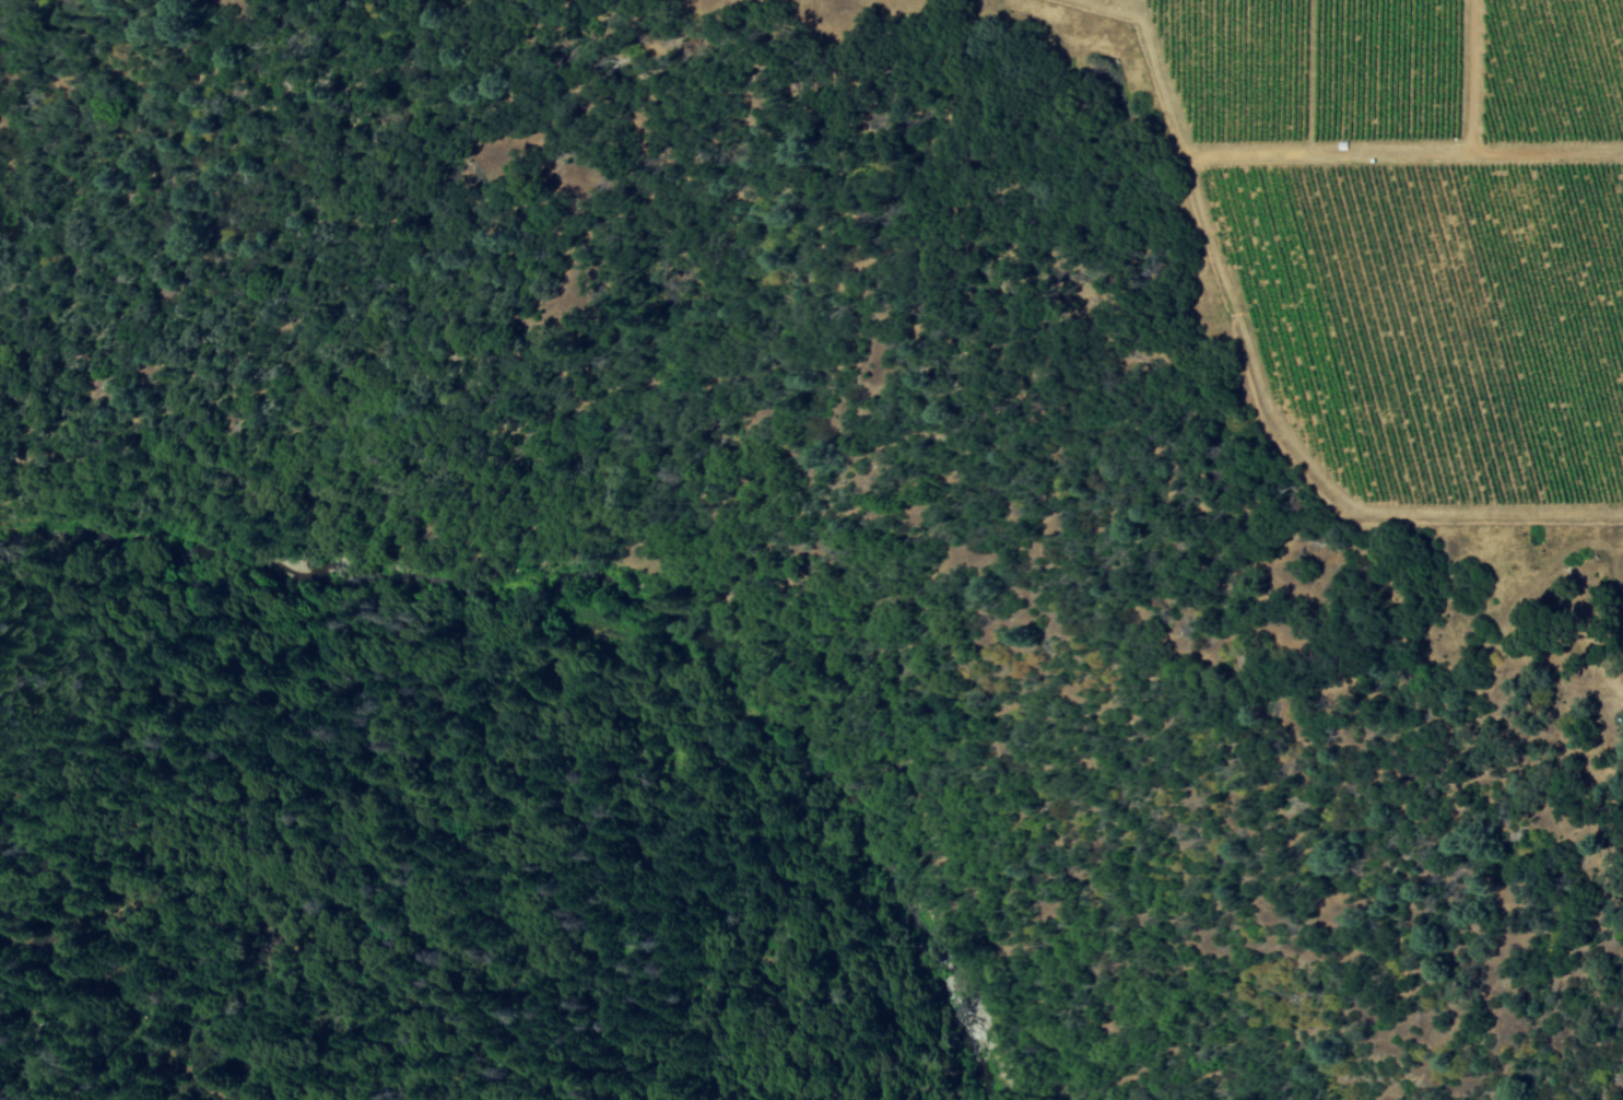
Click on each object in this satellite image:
crop: (1410, 237)
river: (633, 625)

